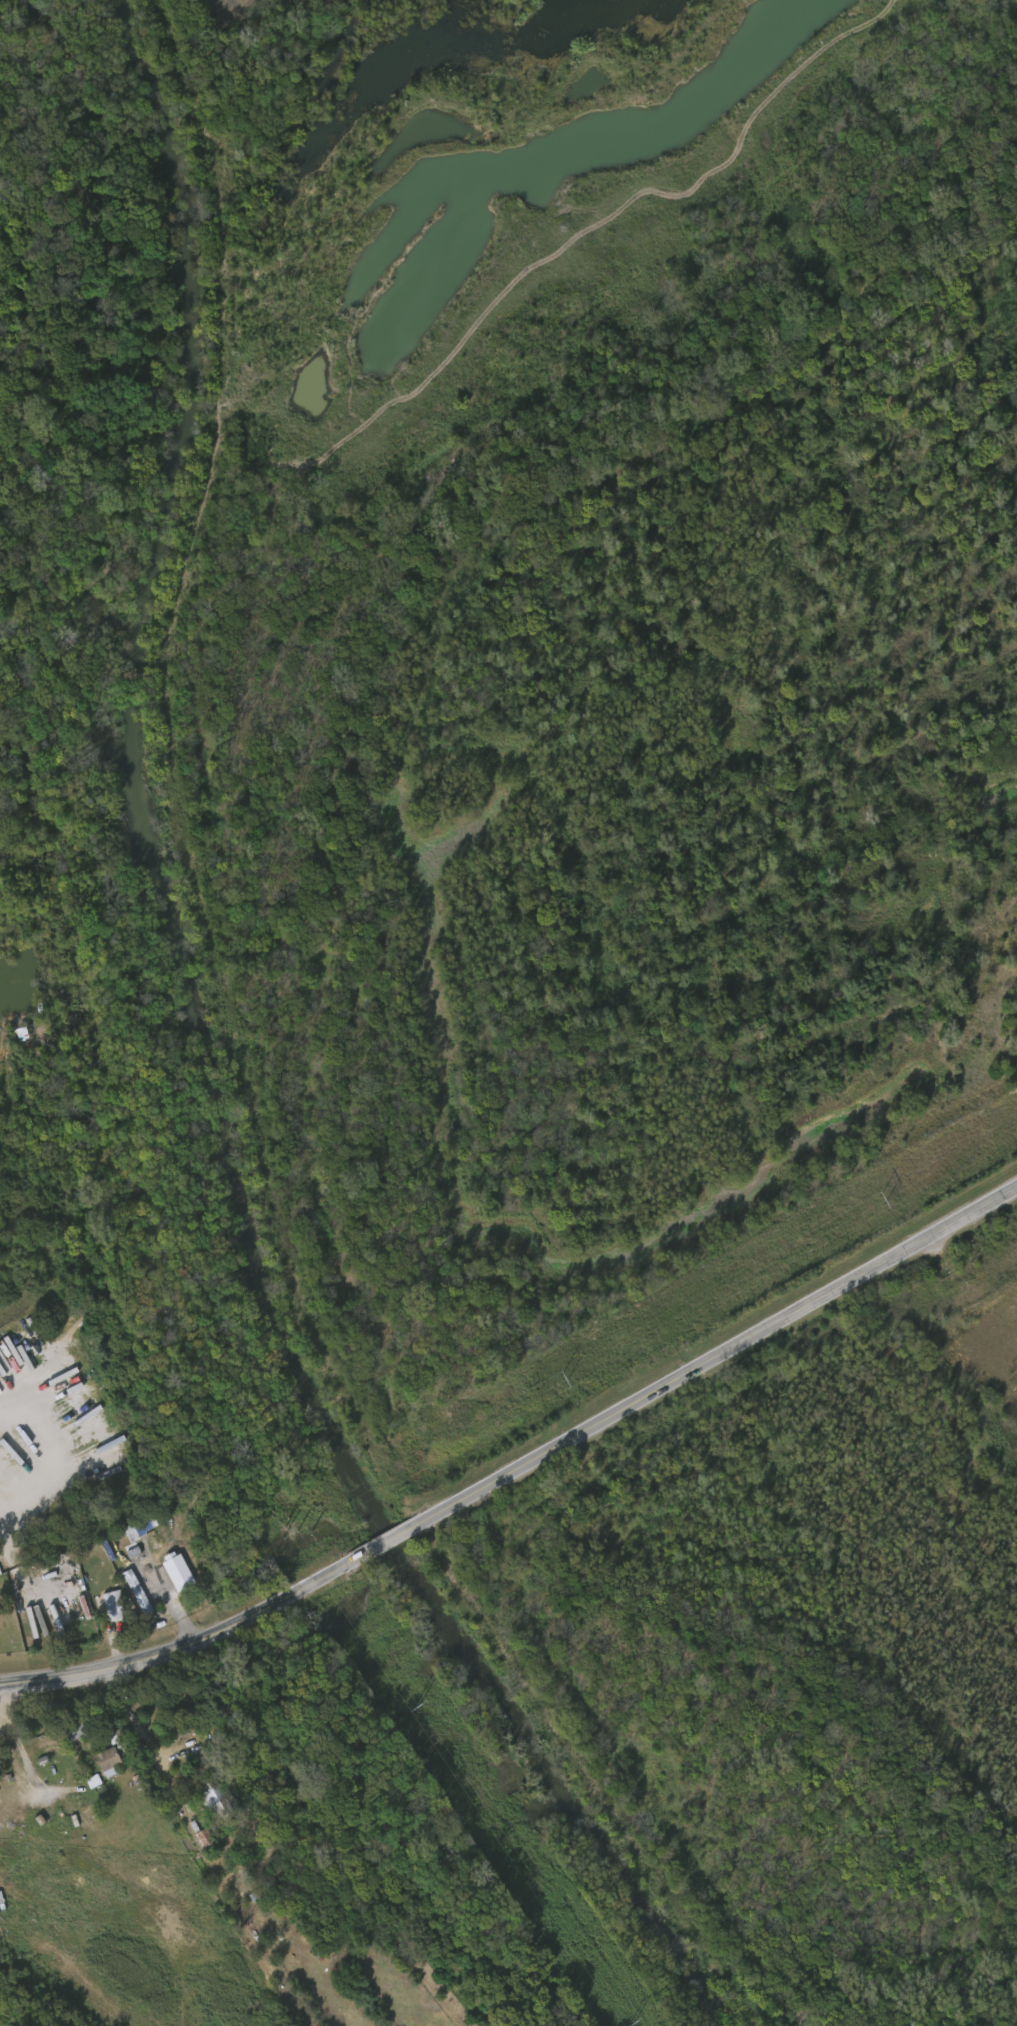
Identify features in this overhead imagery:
crop: (213, 14)
road: (88, 173)
crop: (592, 657)
power tower: (881, 1200)
road: (969, 1294)
power tower: (561, 1380)
road: (30, 1404)
road: (520, 1468)
power tower: (298, 1528)
building: (172, 1573)
building: (136, 1592)
building: (112, 1603)
building: (75, 1726)
road: (145, 1737)
building: (106, 1757)
building: (216, 1799)
building: (203, 1838)
power tower: (628, 2020)

